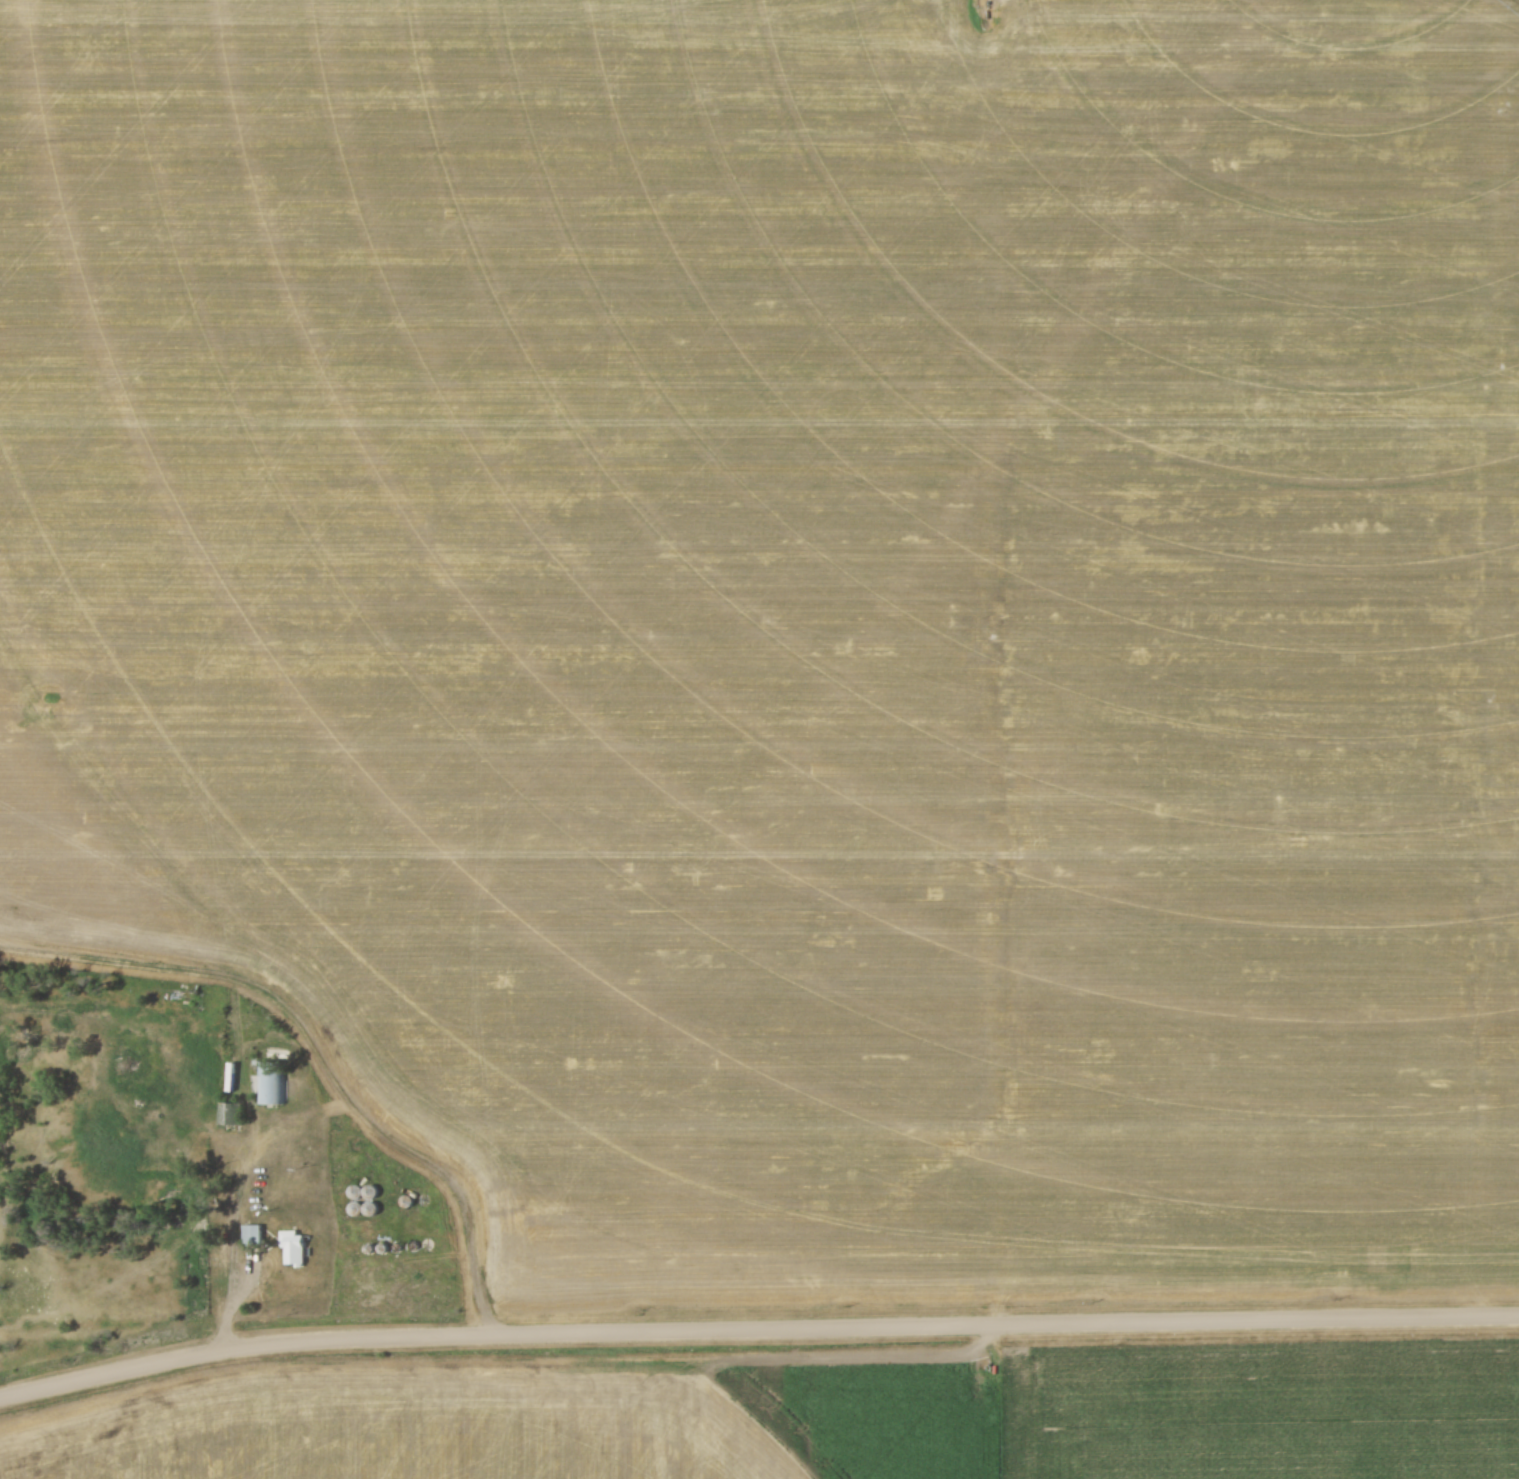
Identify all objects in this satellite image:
building: (276, 1083)
building: (238, 1114)
building: (251, 1235)
building: (292, 1248)
road: (756, 1327)
crop: (1268, 1413)
crop: (542, 1421)

